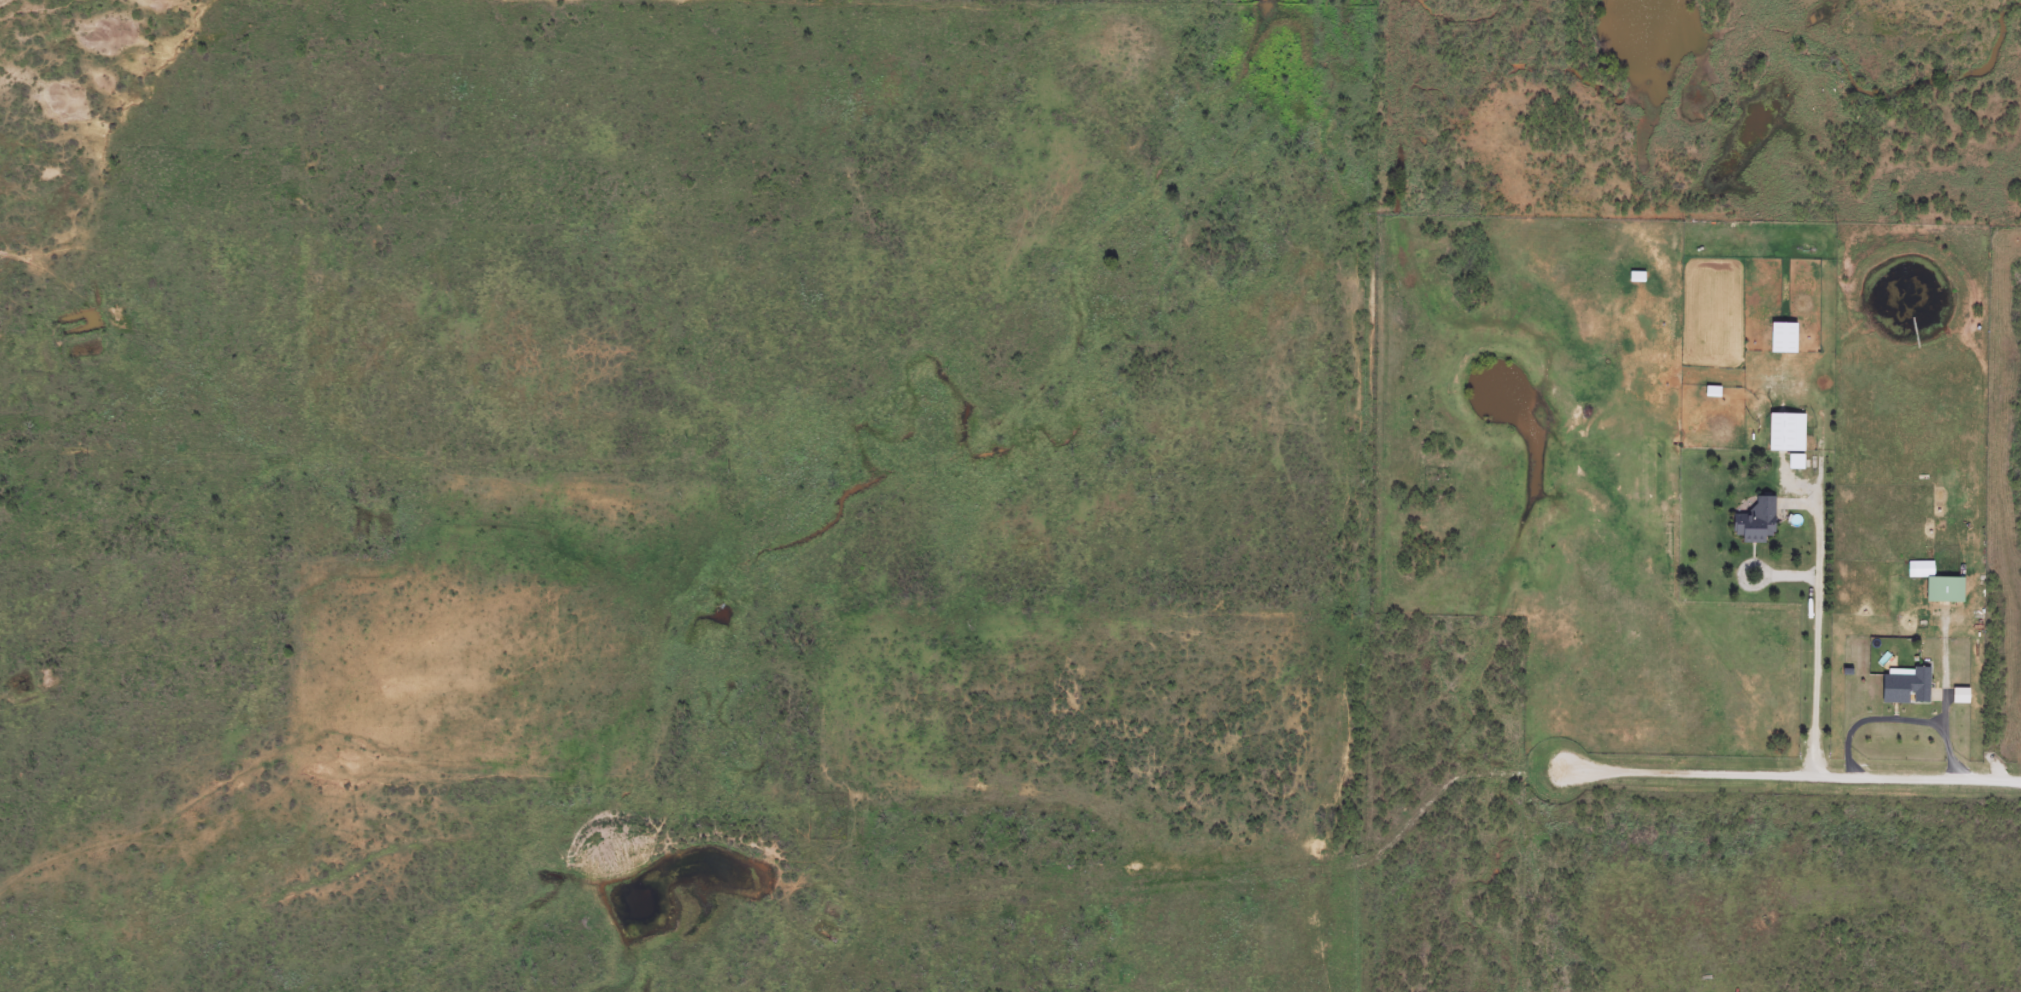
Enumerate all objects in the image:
building: (1780, 429)
building: (1756, 518)
building: (1944, 587)
building: (1906, 685)
road: (1565, 698)
road: (1874, 840)

